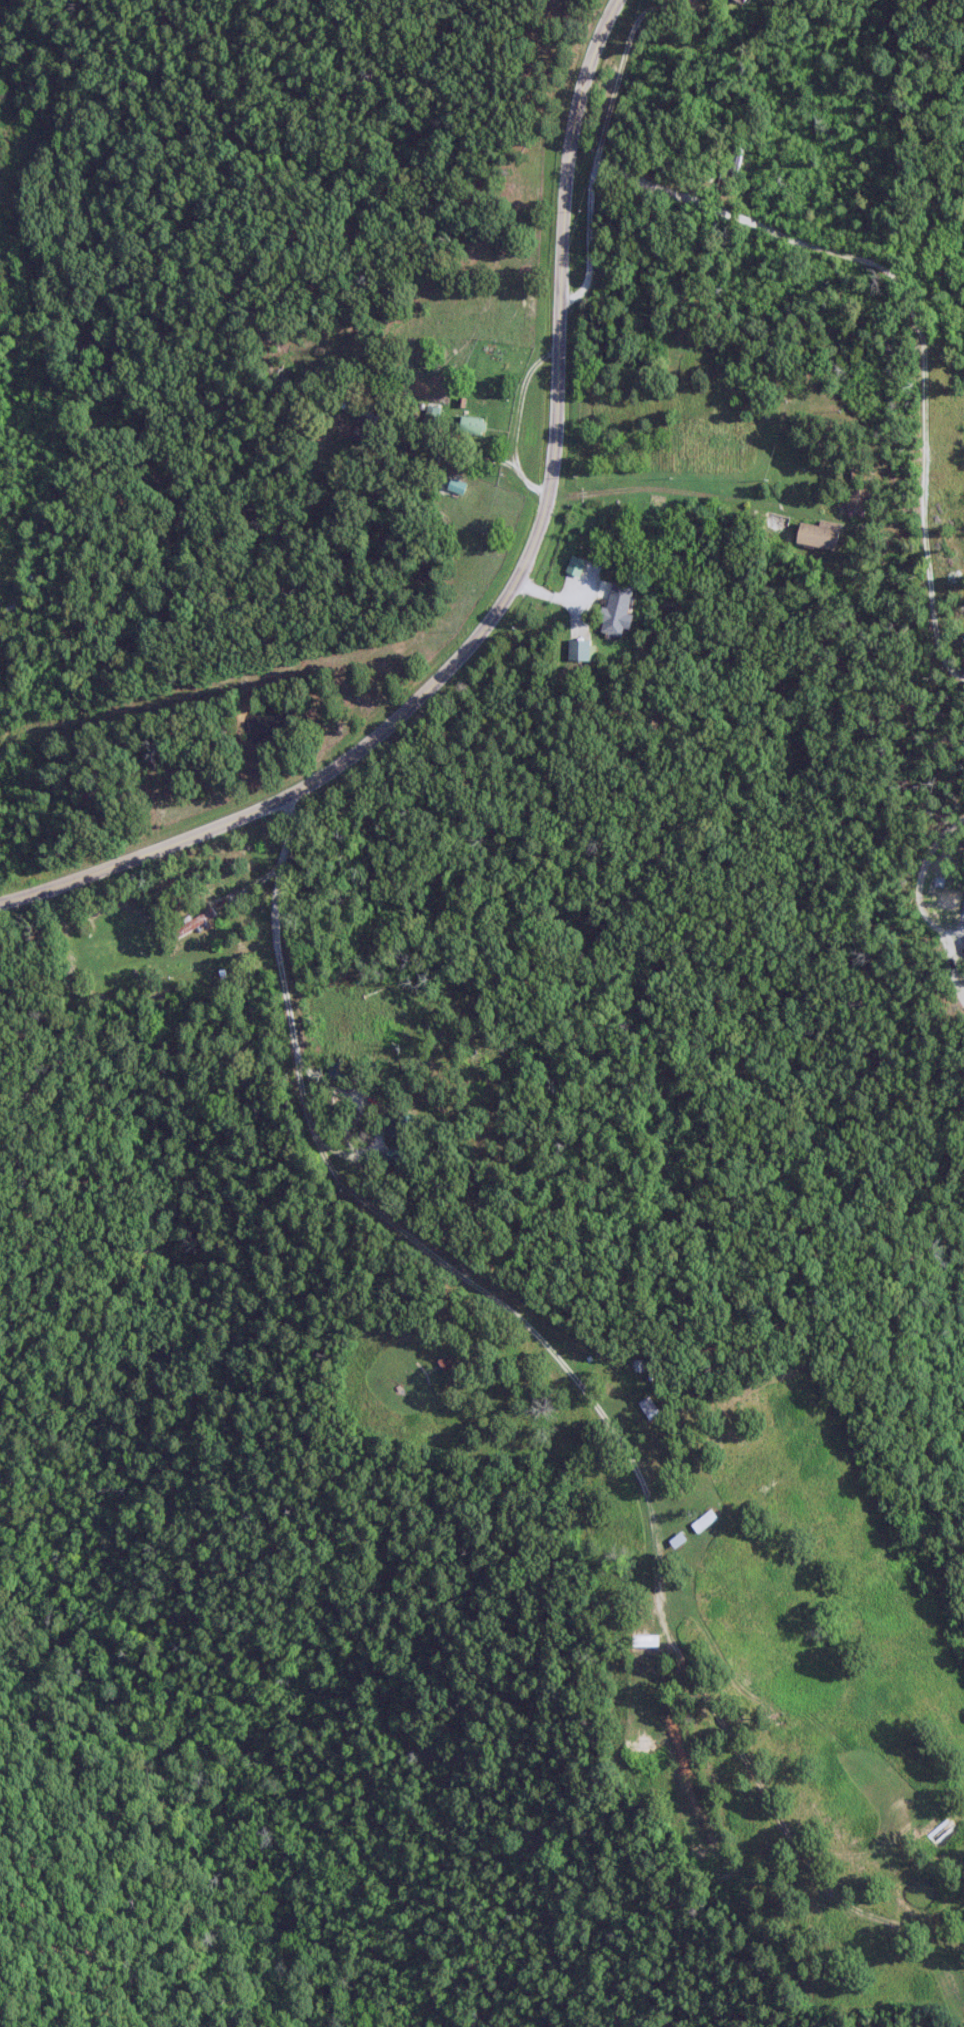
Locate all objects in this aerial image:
building: (737, 0)
road: (870, 264)
road: (516, 419)
building: (470, 424)
road: (658, 487)
building: (814, 533)
building: (574, 565)
road: (509, 592)
building: (615, 609)
building: (580, 650)
road: (920, 859)
road: (558, 1359)
building: (702, 1520)
building: (643, 1639)

